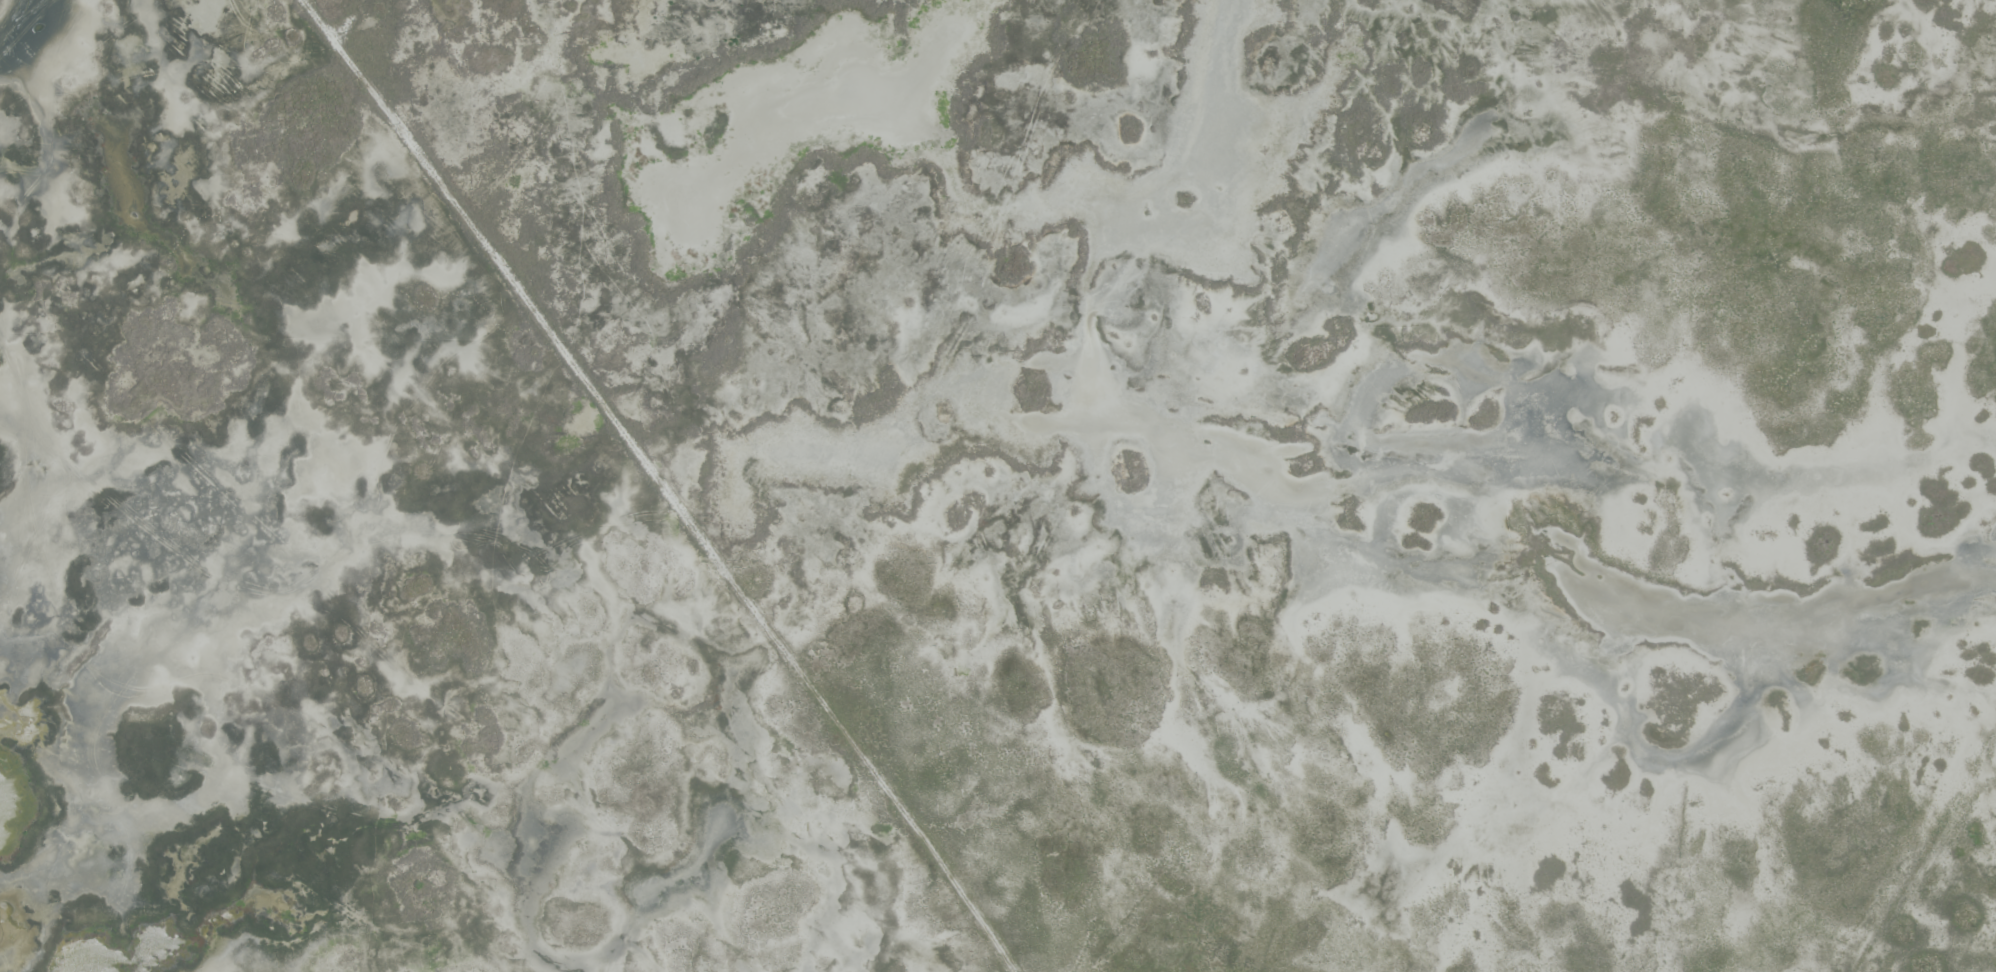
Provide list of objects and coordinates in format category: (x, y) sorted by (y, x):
park: (998, 486)

